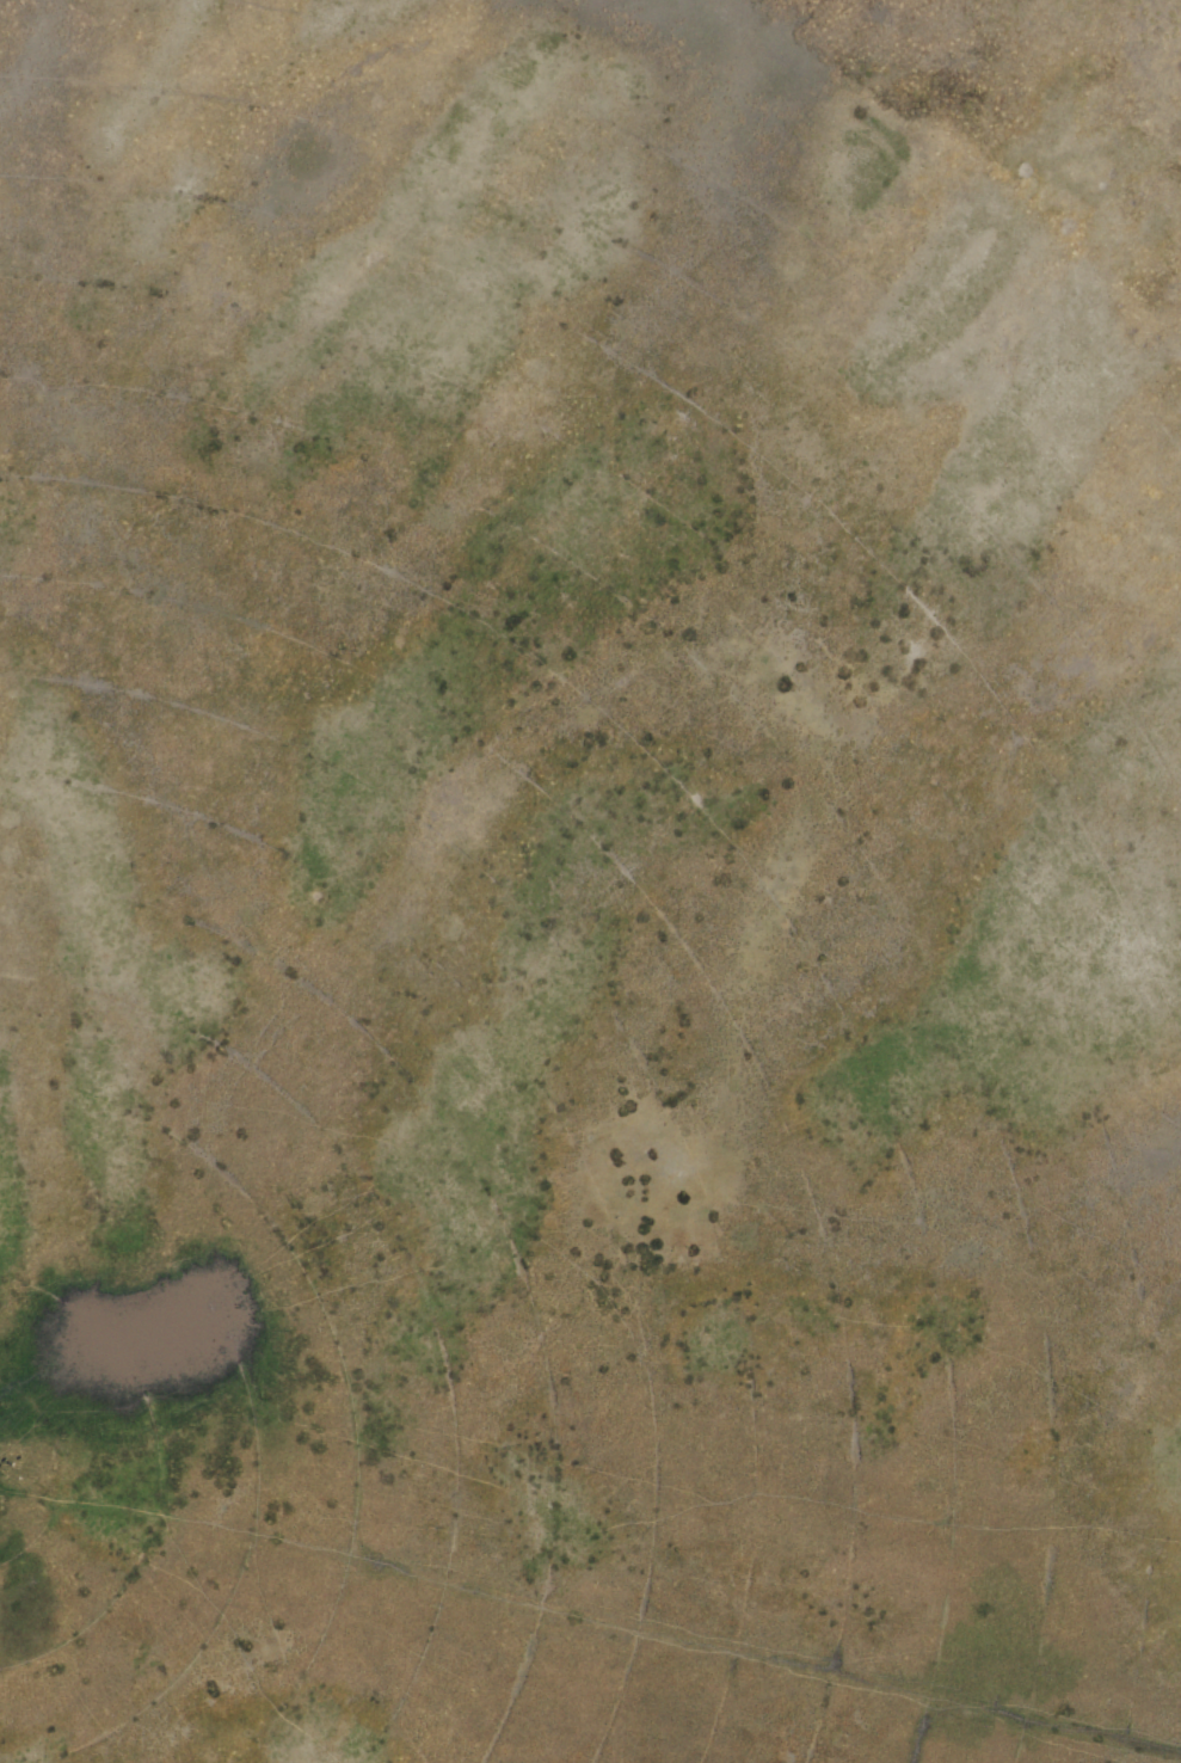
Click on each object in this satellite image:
crop: (590, 881)

